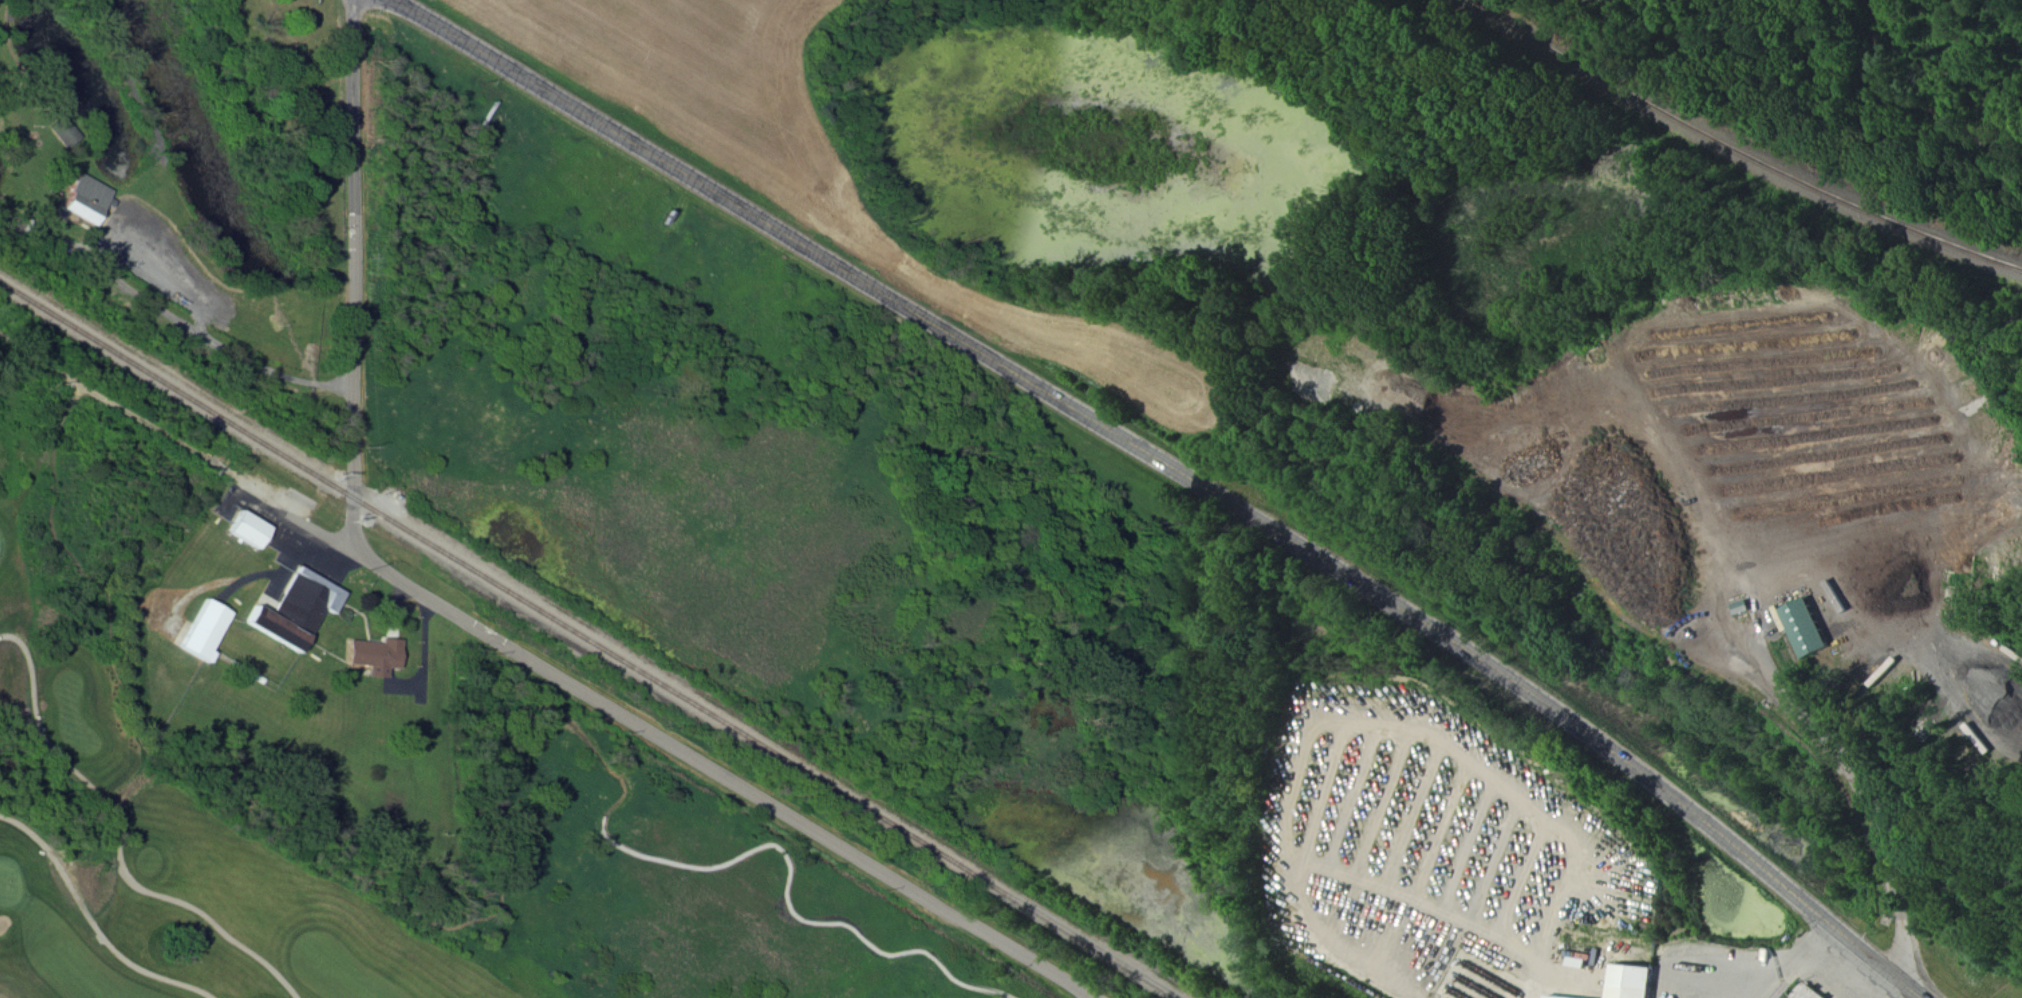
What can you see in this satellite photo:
building: (60, 129)
railway: (1739, 145)
building: (85, 200)
road: (353, 285)
road: (146, 306)
road: (1130, 440)
road: (188, 448)
building: (248, 530)
building: (306, 600)
building: (1742, 608)
building: (203, 629)
building: (274, 629)
building: (1808, 629)
railway: (590, 639)
building: (371, 655)
road: (730, 780)
road: (1863, 783)
park: (173, 796)
road: (118, 839)
road: (92, 921)
road: (1881, 960)
road: (1758, 965)
road: (1831, 976)
park: (930, 978)
building: (1624, 980)
building: (1811, 992)
building: (1558, 996)

